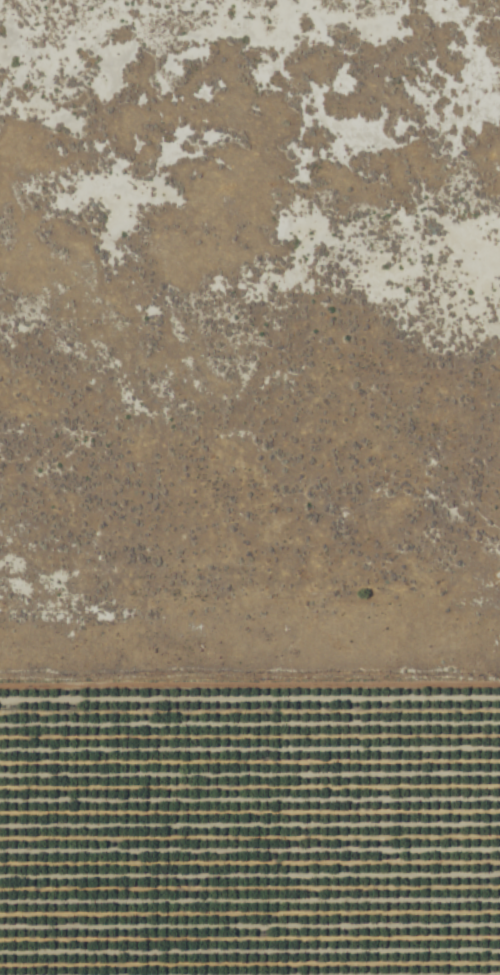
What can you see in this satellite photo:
road: (250, 688)

